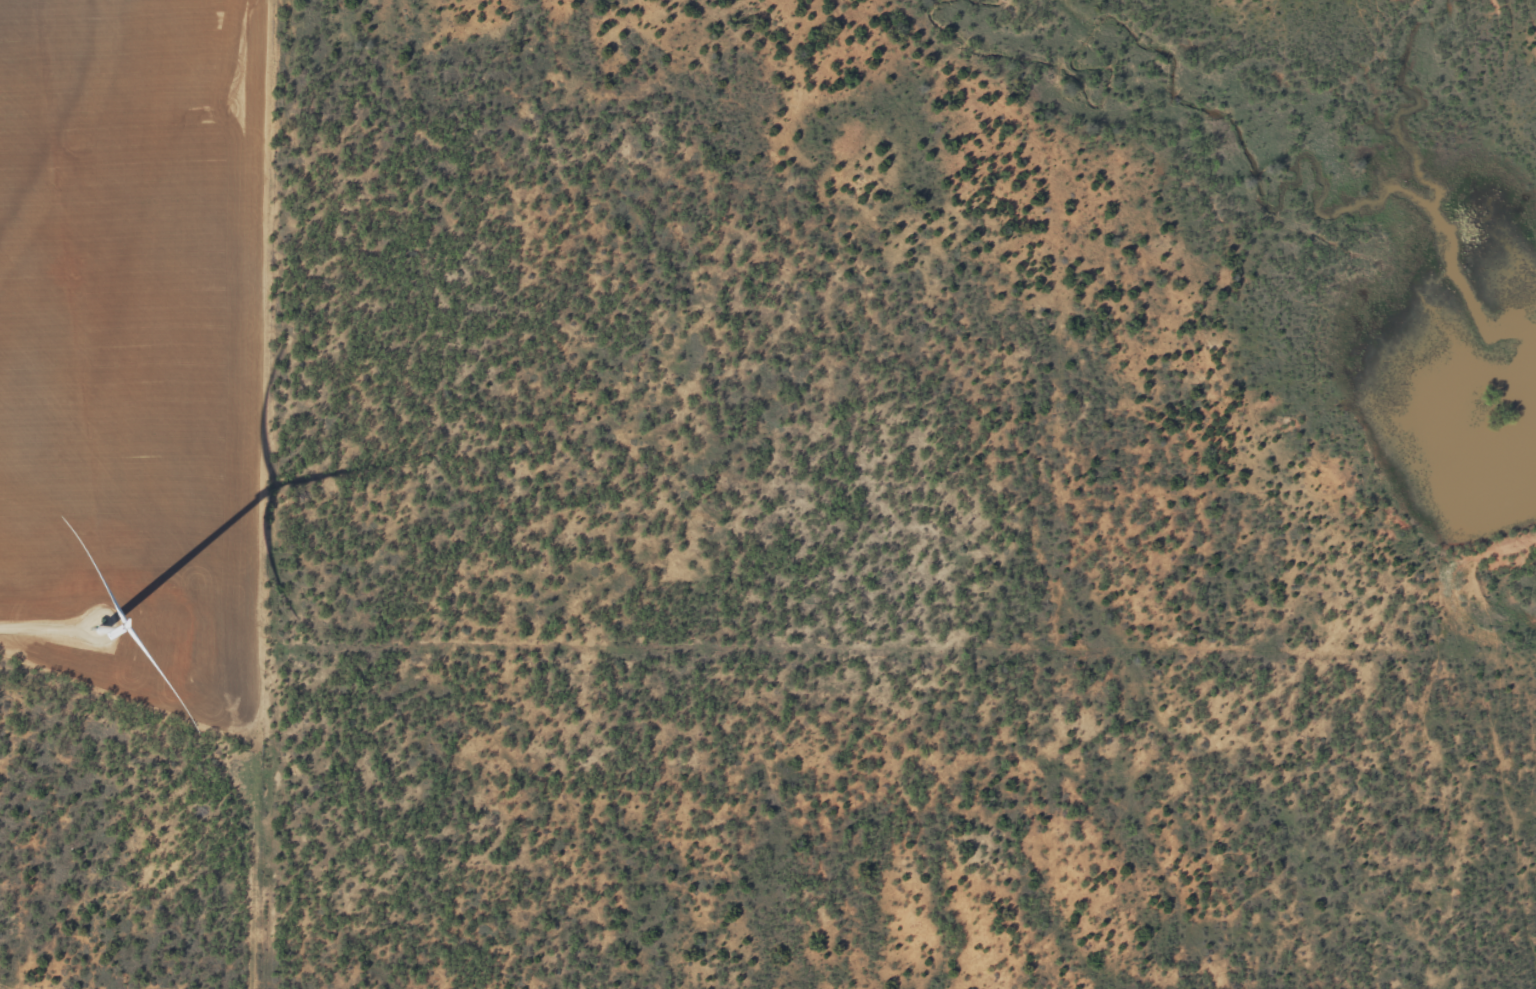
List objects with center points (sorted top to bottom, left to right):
wind turbine: (105, 626)

